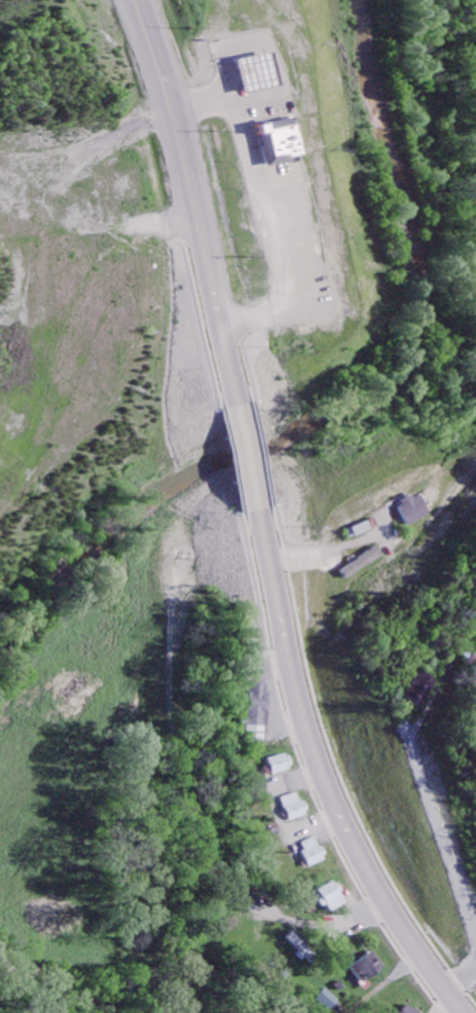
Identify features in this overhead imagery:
building: (278, 142)
road: (256, 212)
building: (416, 510)
road: (259, 521)
building: (360, 531)
building: (416, 689)
building: (260, 706)
building: (280, 766)
building: (293, 808)
road: (395, 850)
building: (311, 853)
building: (329, 899)
building: (298, 948)
building: (366, 969)
road: (463, 995)
building: (325, 1001)
road: (463, 1007)
building: (407, 1010)

